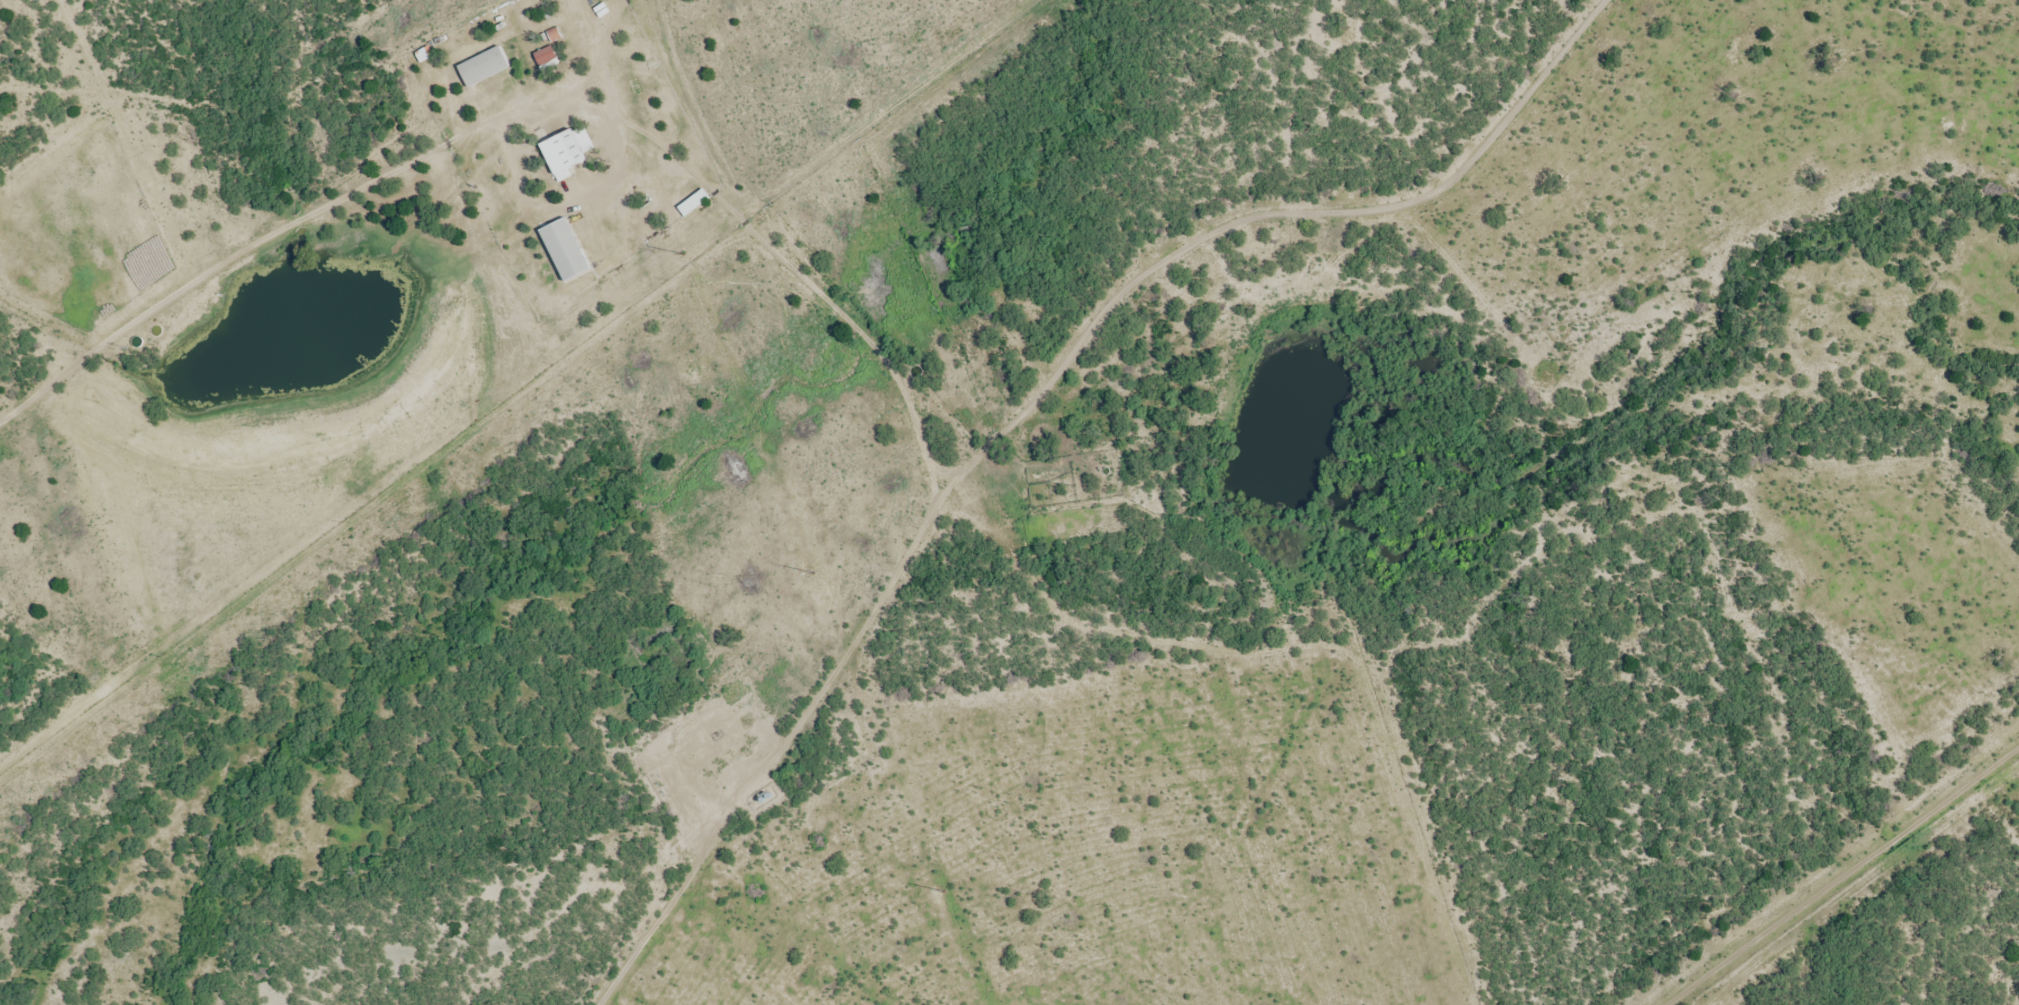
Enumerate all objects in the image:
building: (483, 66)
building: (568, 149)
building: (565, 248)
power tower: (683, 255)
road: (1031, 404)
road: (542, 415)
power tower: (814, 574)
power tower: (944, 893)

